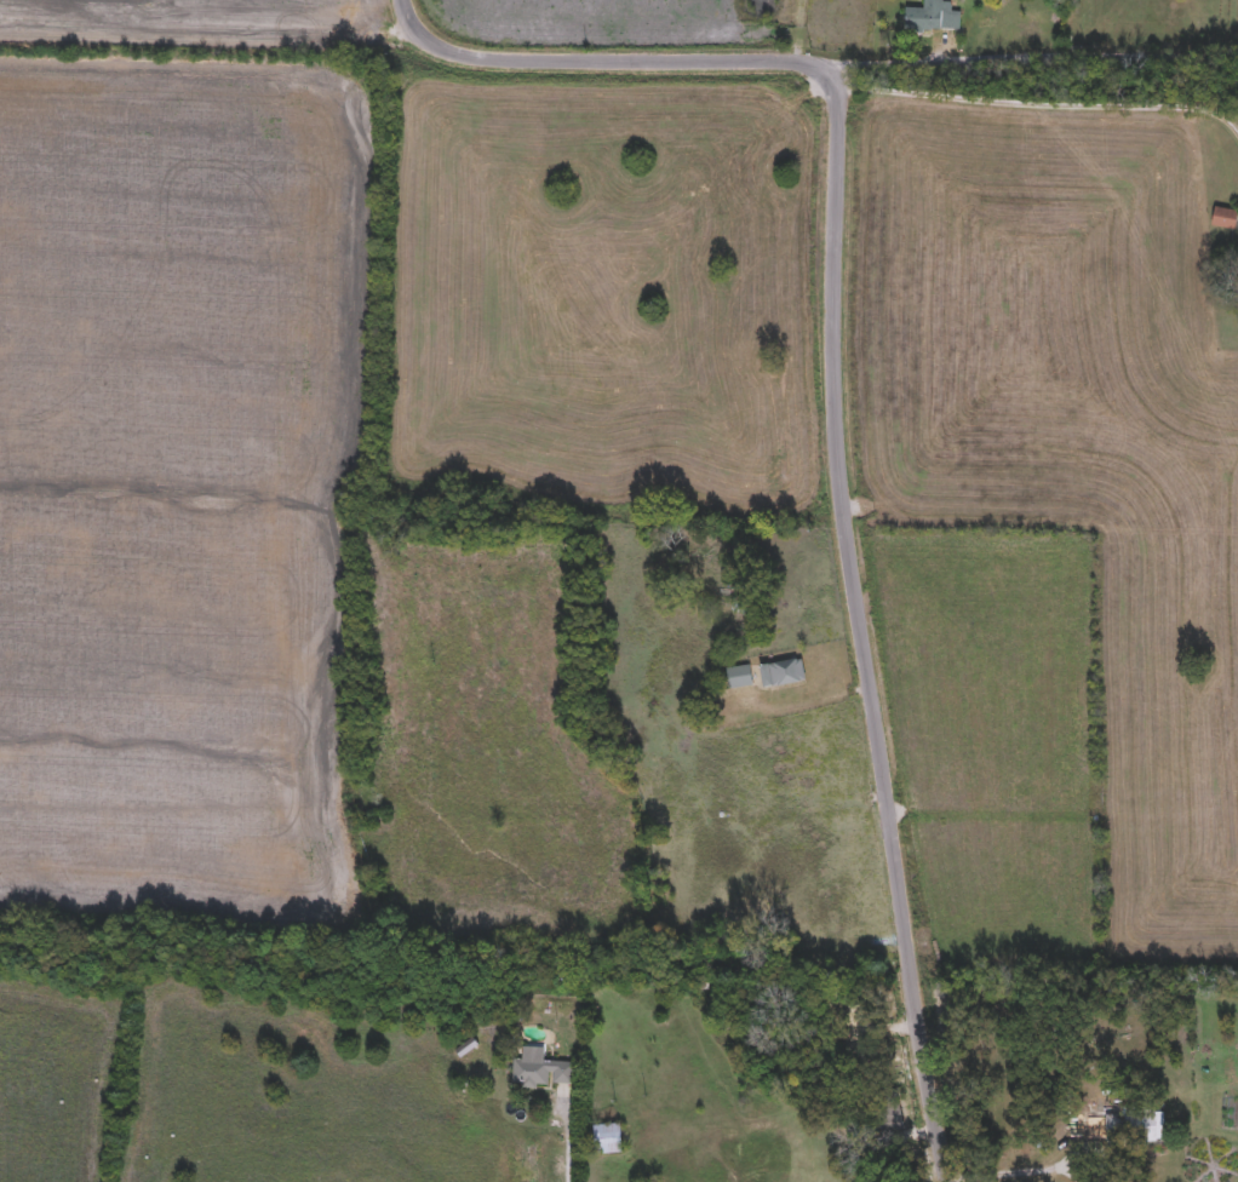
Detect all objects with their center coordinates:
building: (932, 16)
road: (1033, 56)
road: (1034, 103)
building: (1223, 218)
road: (835, 398)
building: (781, 673)
building: (739, 677)
building: (540, 1073)
building: (1136, 1128)
building: (608, 1140)
road: (572, 1172)
road: (1008, 1172)

